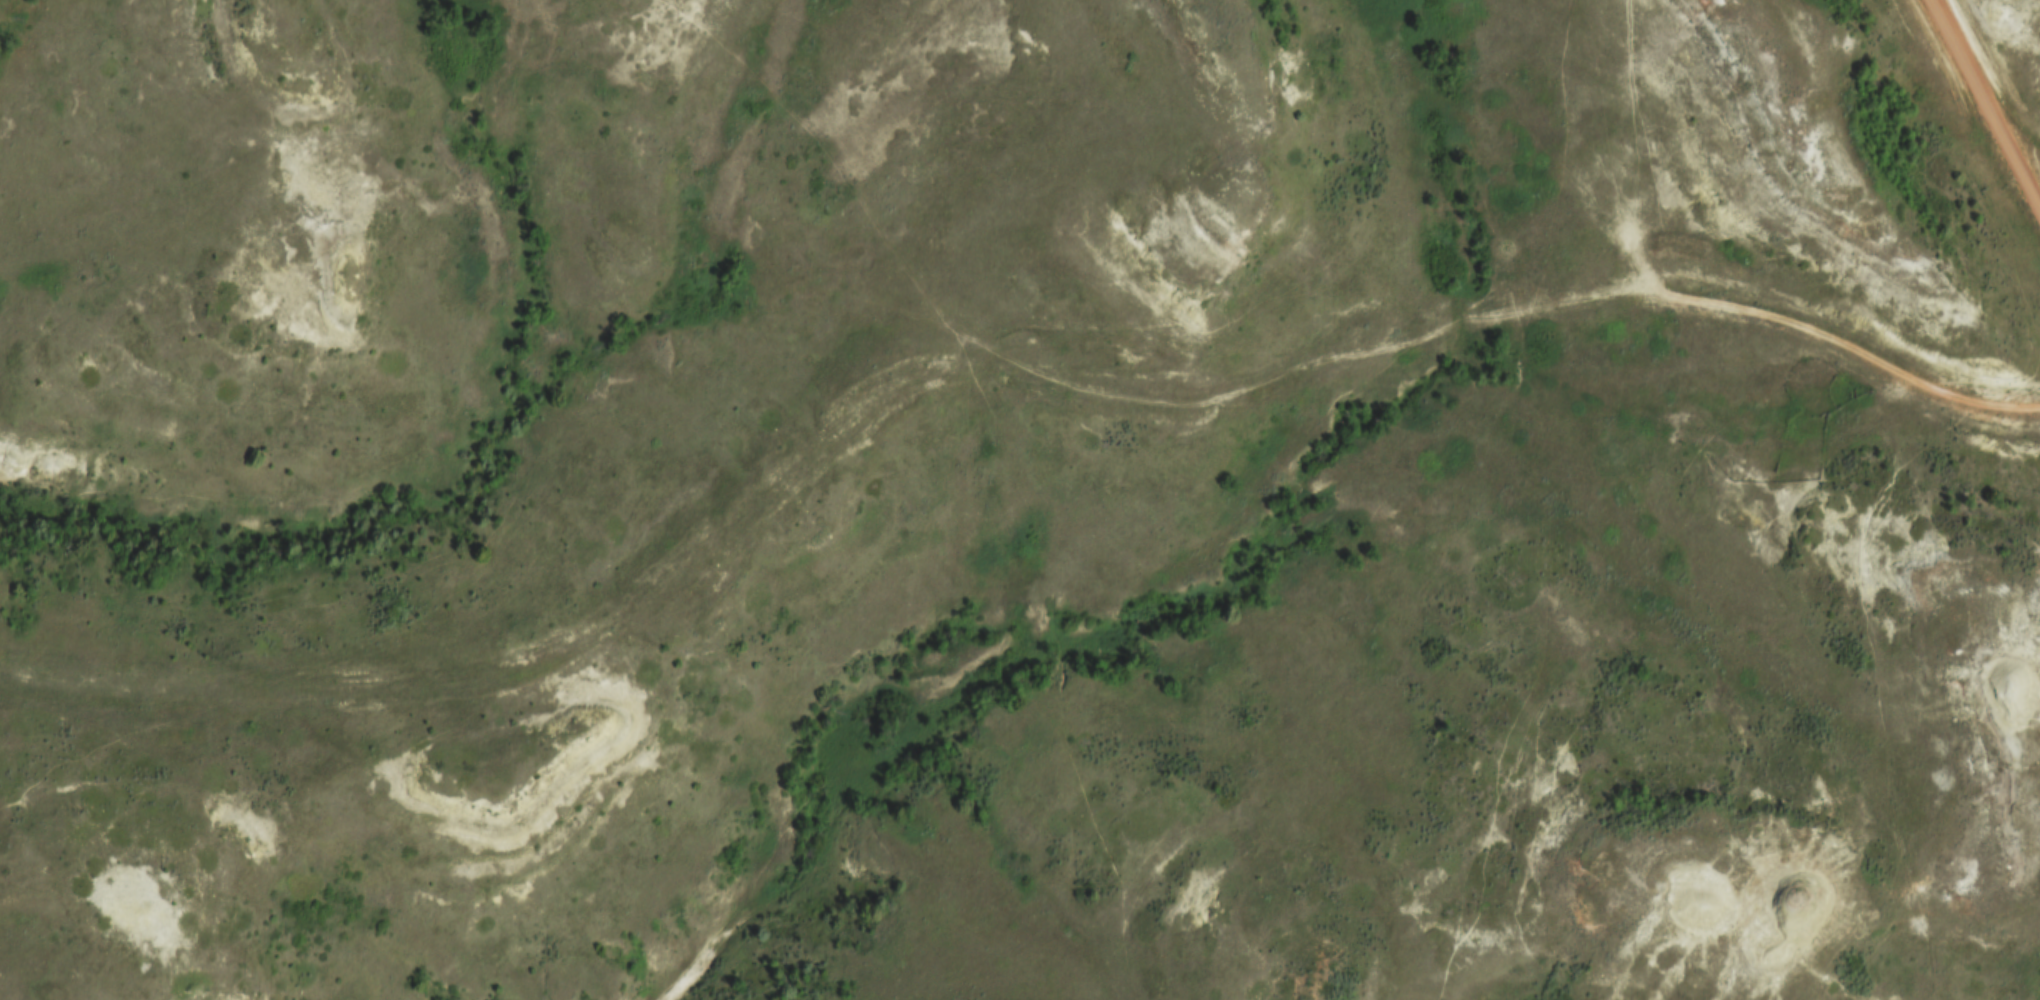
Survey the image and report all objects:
road: (1988, 101)

